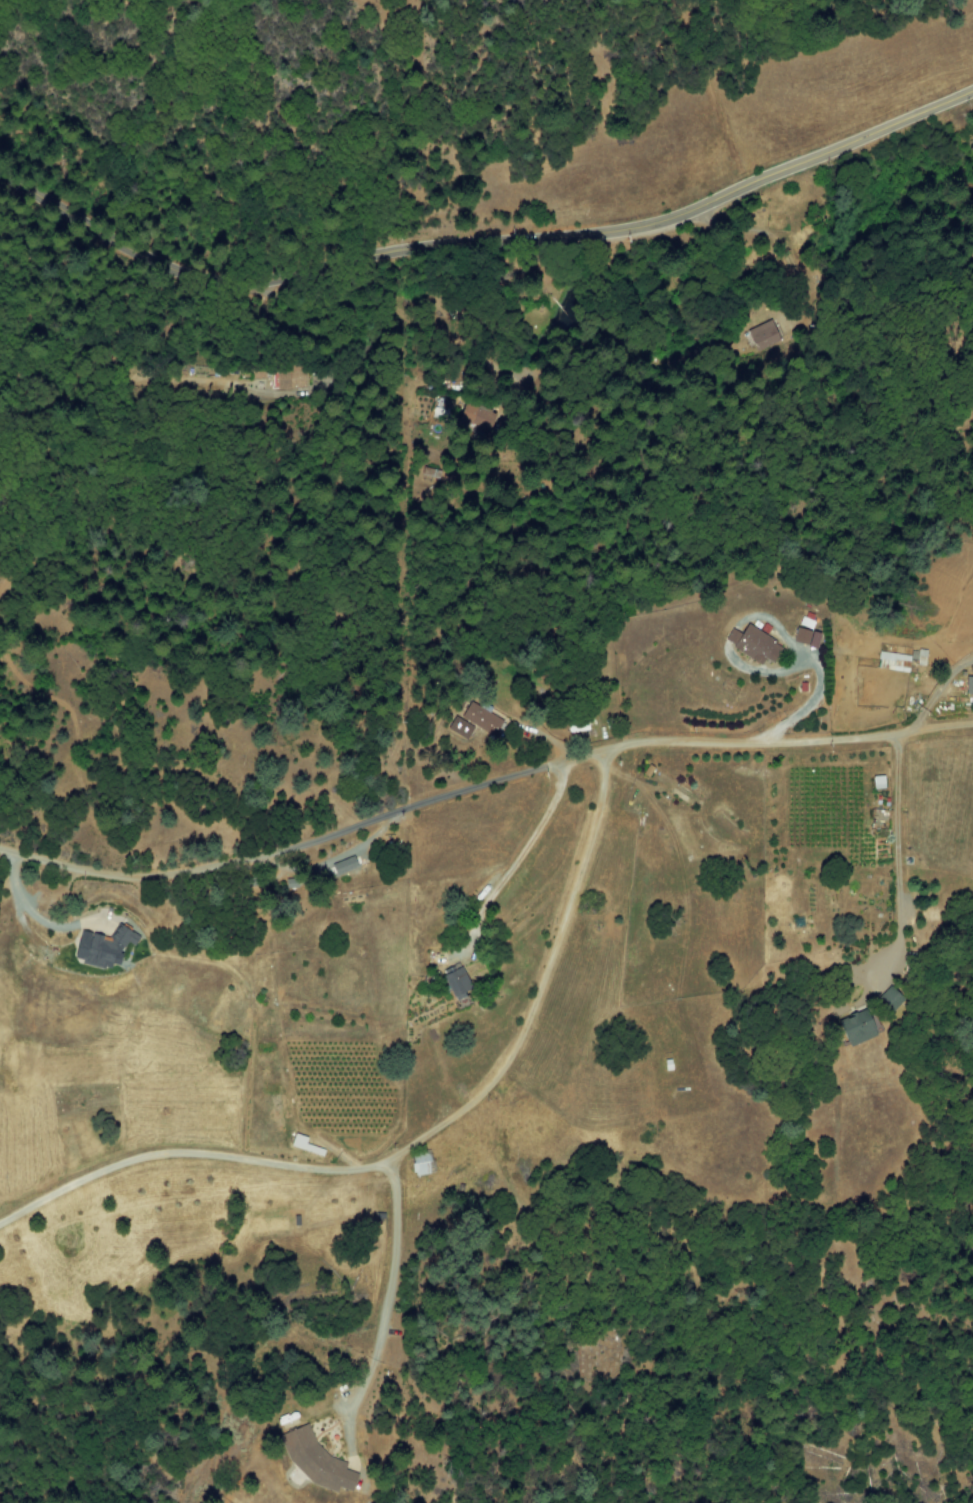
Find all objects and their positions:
road: (483, 242)
building: (764, 335)
building: (275, 382)
building: (809, 637)
building: (756, 644)
building: (897, 661)
building: (970, 685)
building: (481, 719)
building: (462, 729)
road: (792, 739)
road: (310, 843)
road: (894, 860)
road: (511, 862)
building: (341, 867)
building: (106, 947)
building: (458, 982)
building: (859, 1028)
road: (422, 1138)
building: (306, 1145)
building: (424, 1164)
road: (383, 1306)
building: (323, 1468)

